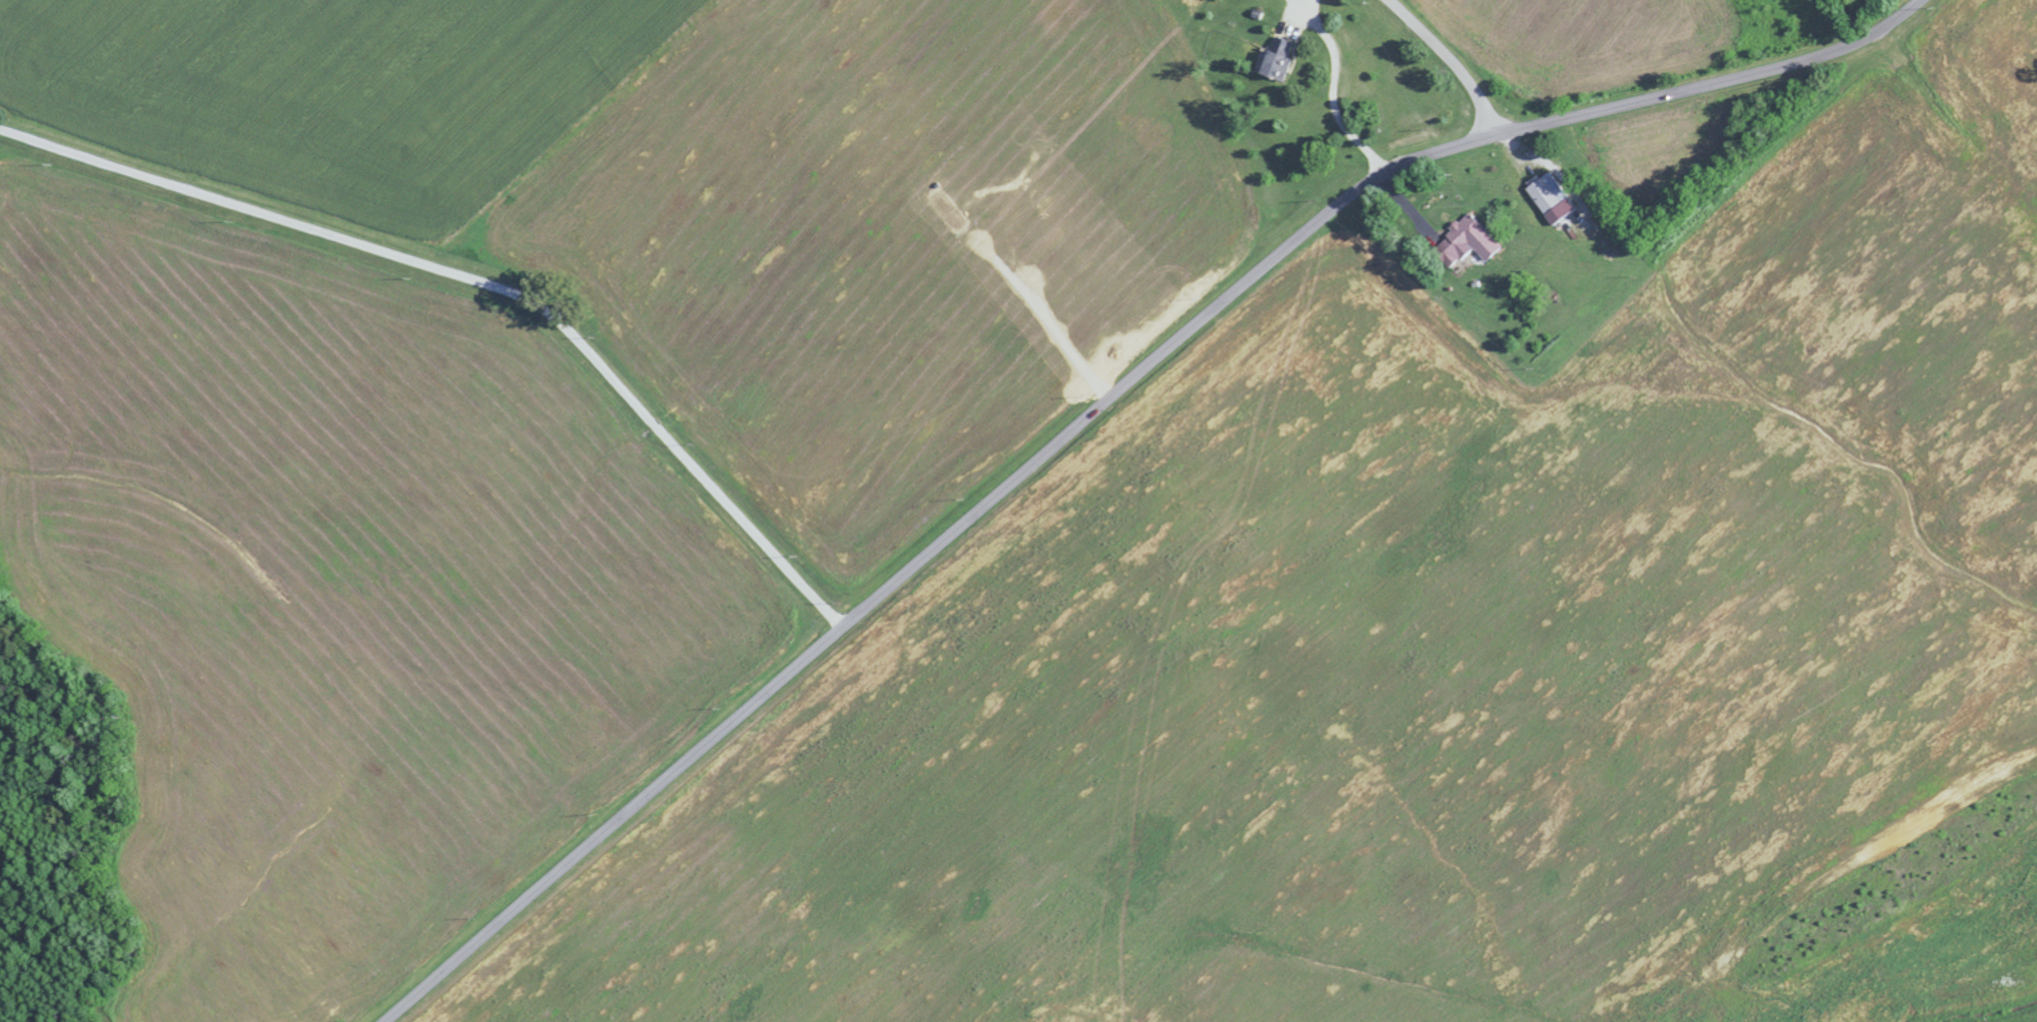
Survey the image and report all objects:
road: (1302, 1)
road: (1447, 60)
building: (1273, 62)
road: (1335, 86)
building: (1546, 195)
building: (1470, 244)
road: (478, 281)
road: (1090, 409)

